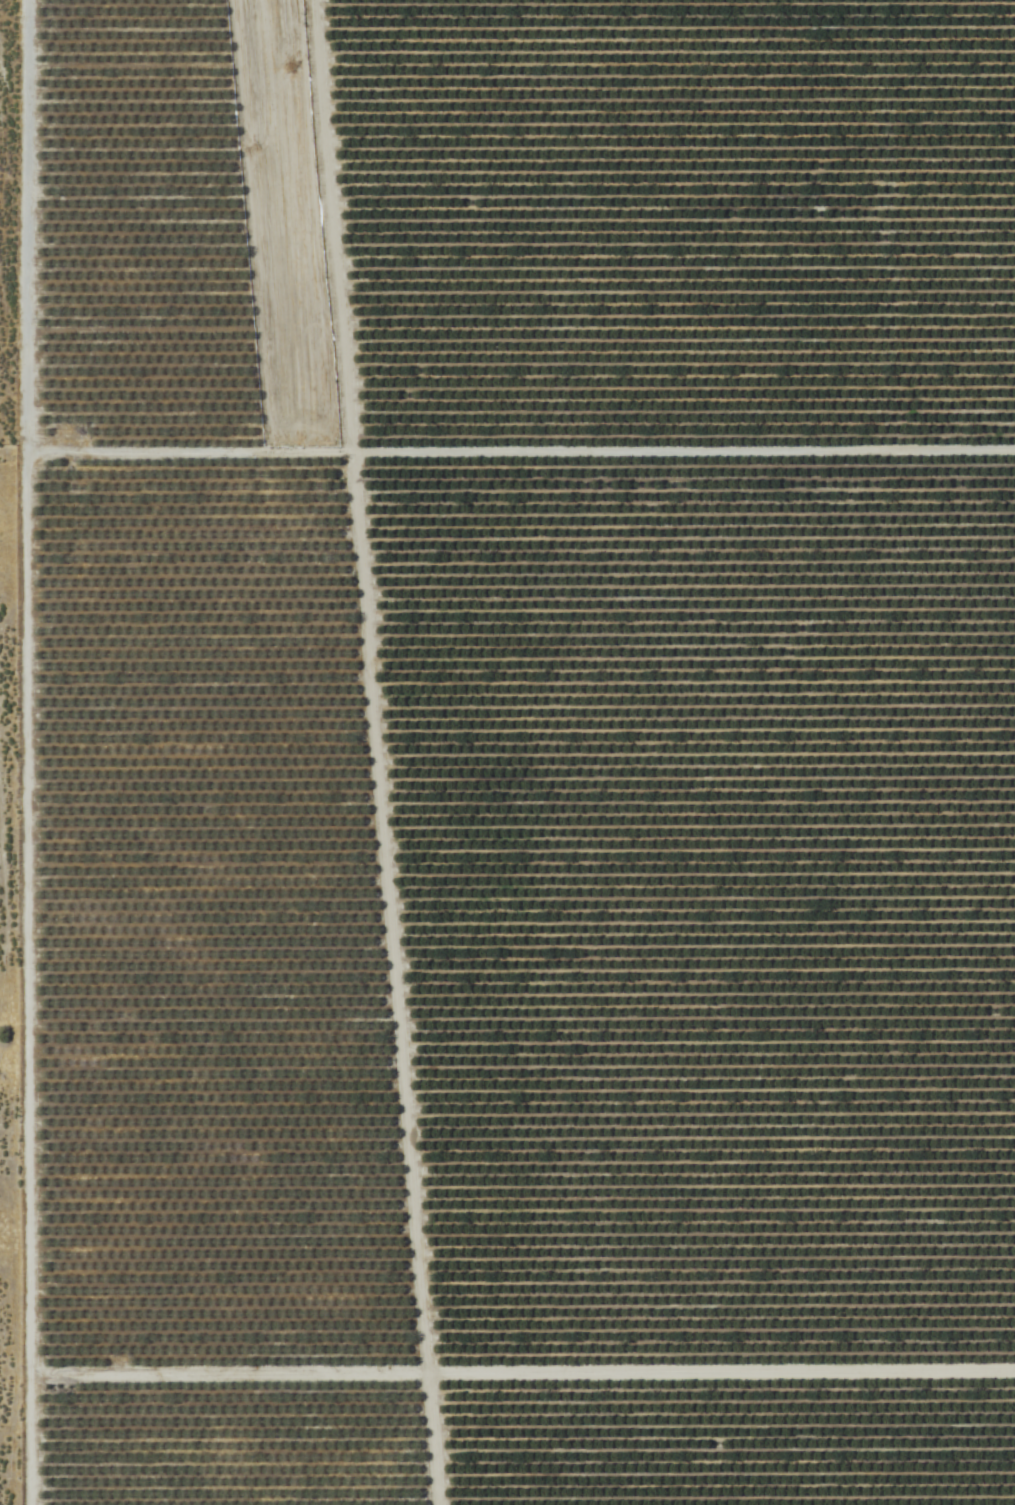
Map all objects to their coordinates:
railway: (277, 227)
railway: (287, 227)
road: (684, 455)
crop: (508, 753)
railway: (339, 979)
railway: (349, 979)
road: (721, 1375)

